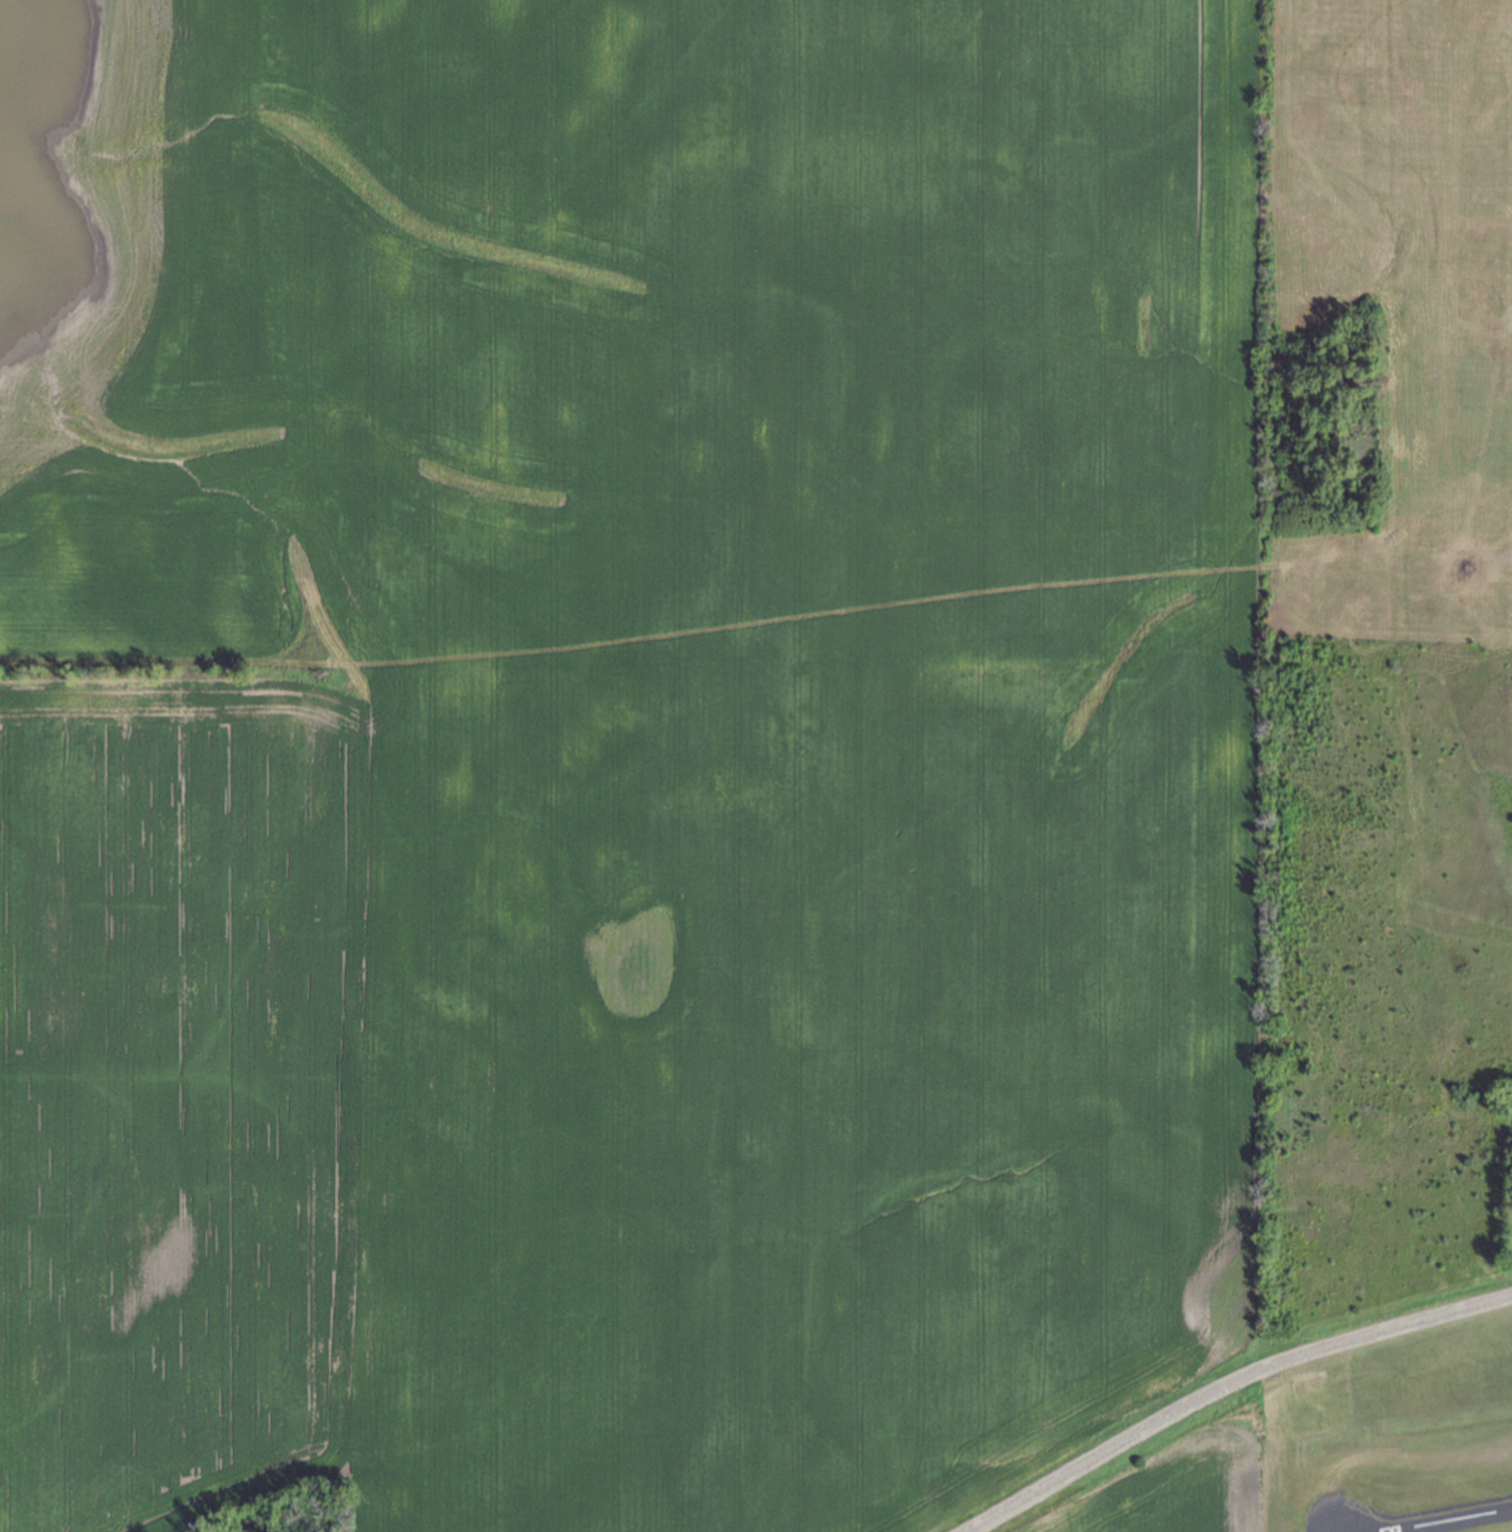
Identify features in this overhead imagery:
road: (1230, 1382)
airport: (1392, 1429)
airport runway: (1451, 1447)
airport taxiway: (1348, 1509)
airport runway: (1444, 1519)

